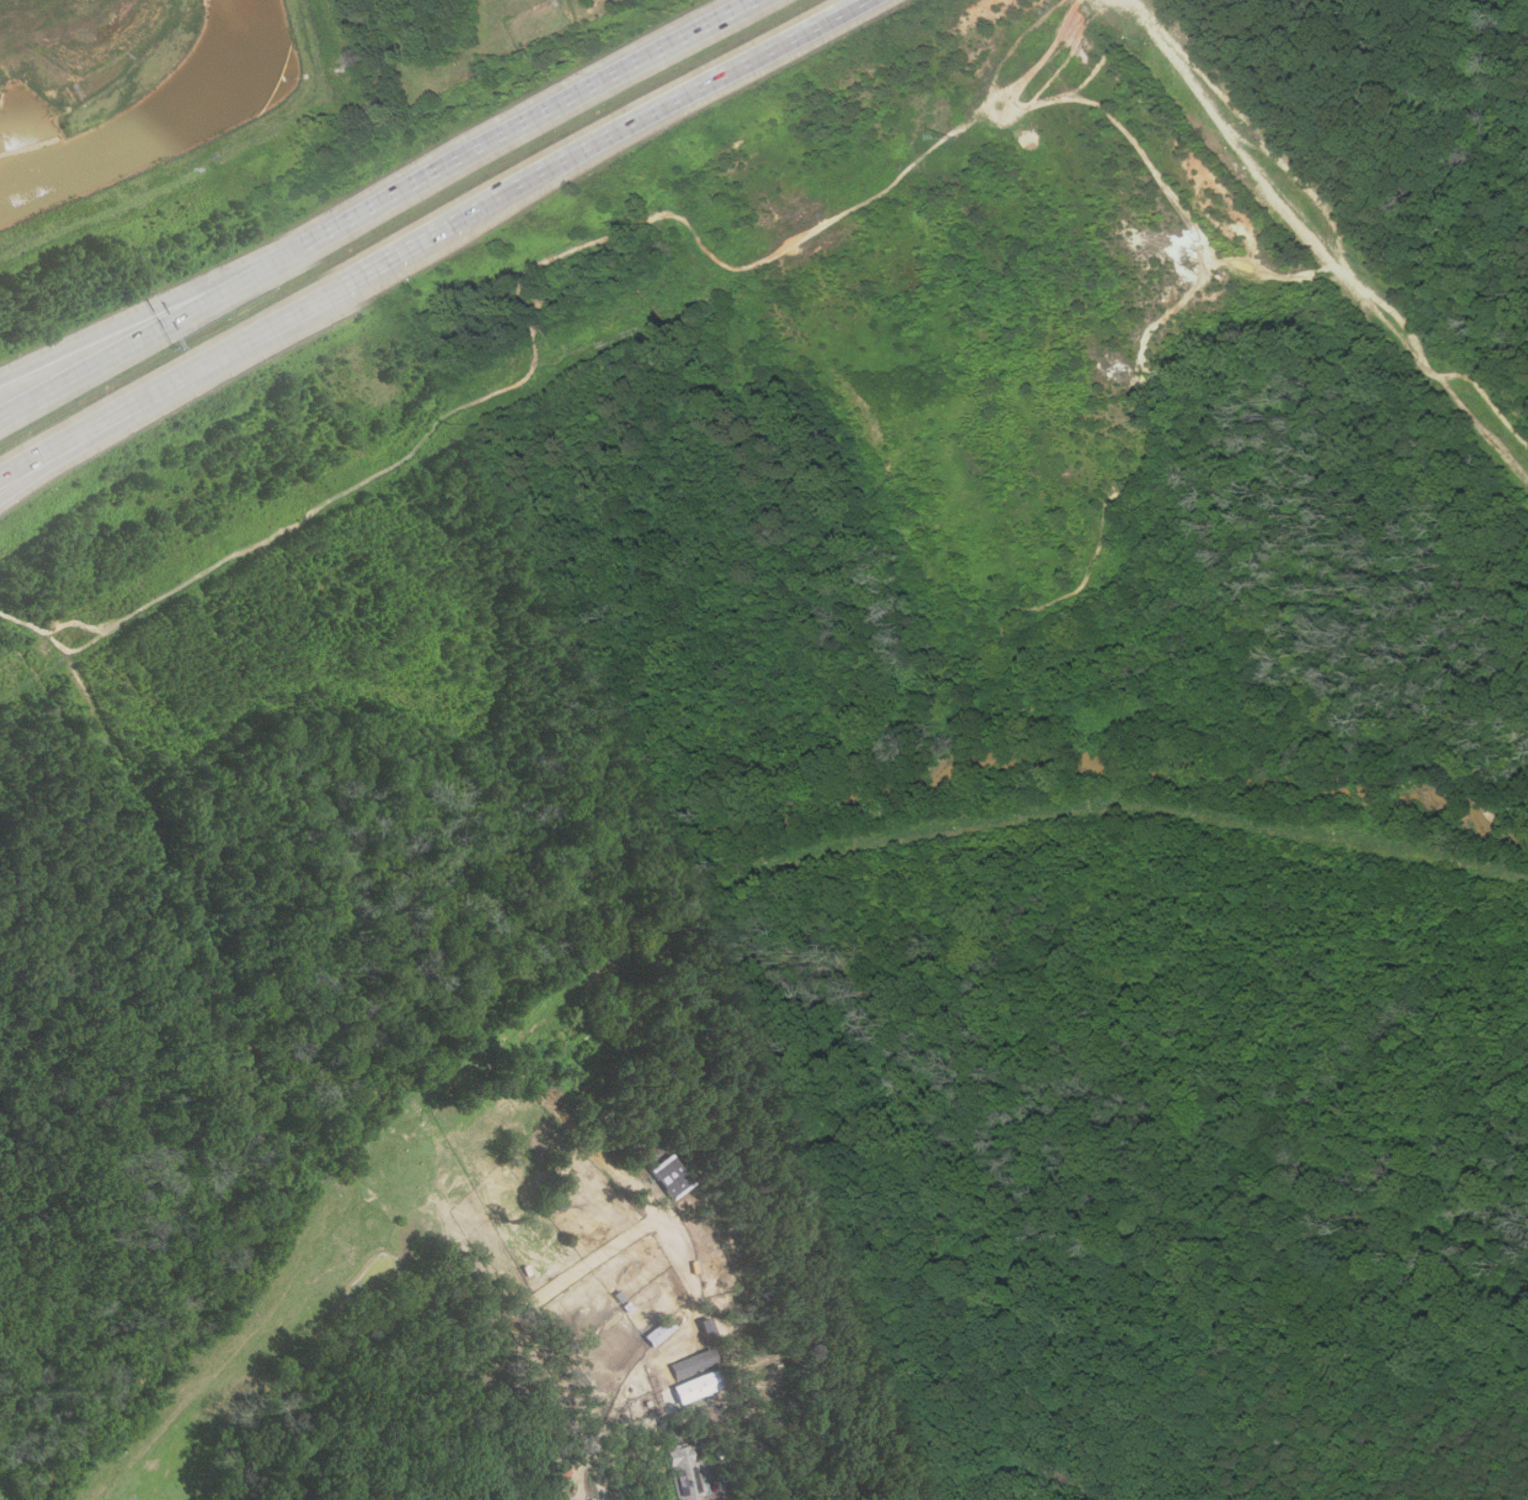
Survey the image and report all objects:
road: (751, 63)
road: (526, 128)
road: (1320, 245)
road: (318, 299)
road: (143, 314)
road: (144, 336)
road: (114, 422)
building: (671, 1176)
building: (659, 1331)
building: (693, 1362)
building: (696, 1386)
building: (682, 1474)
road: (598, 1479)

